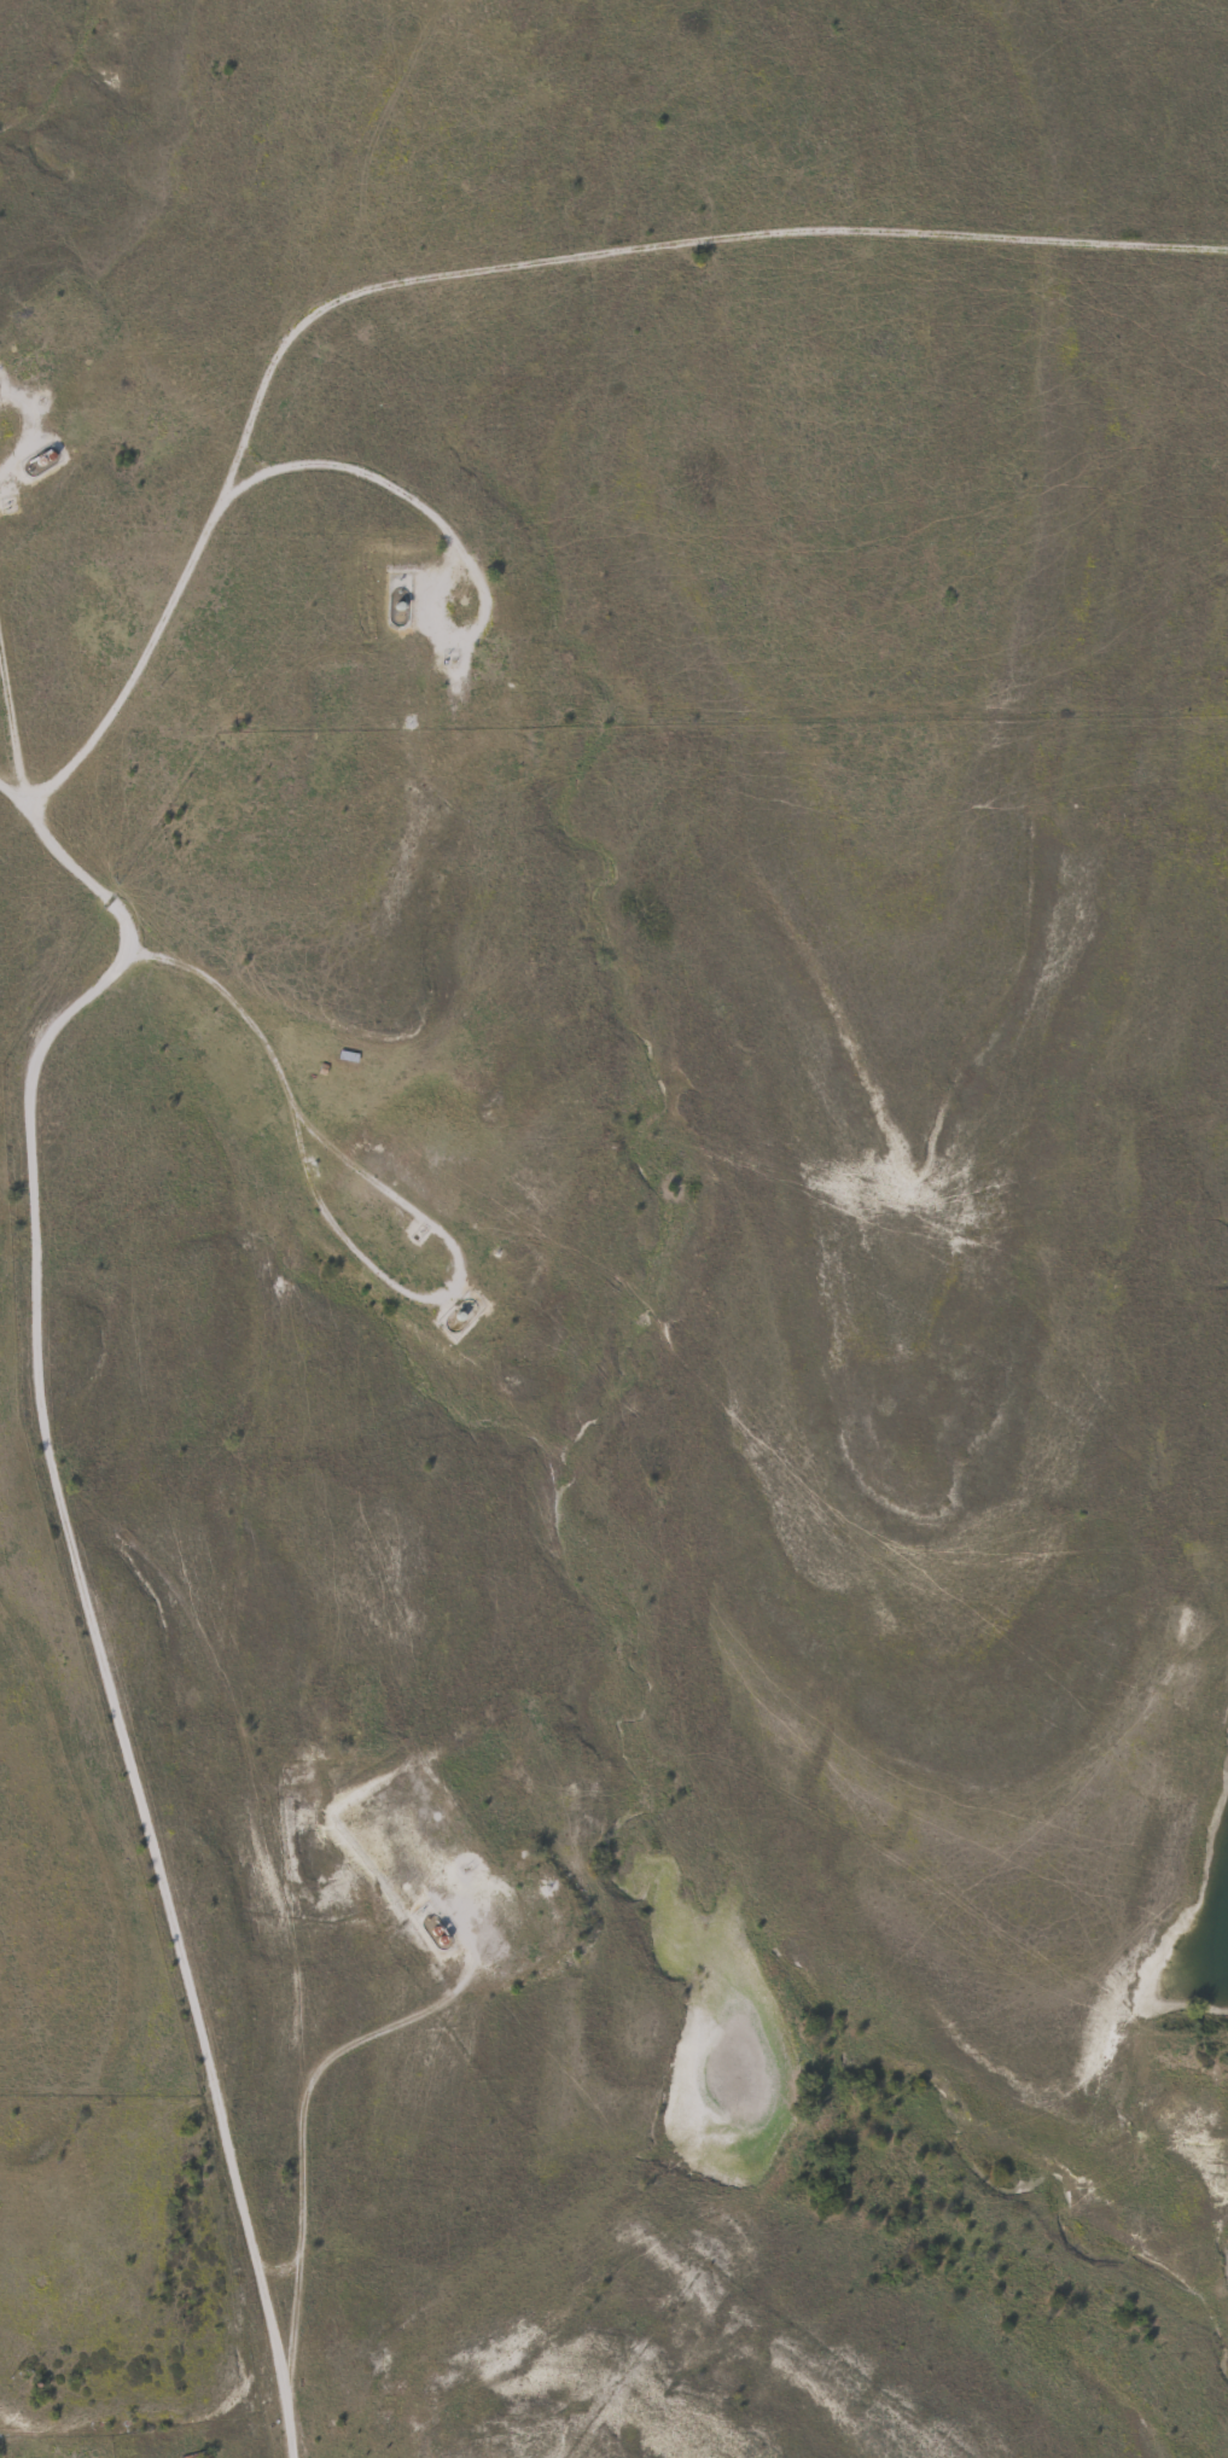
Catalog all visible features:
road: (786, 237)
road: (349, 465)
road: (8, 741)
road: (14, 797)
road: (27, 1136)
road: (298, 2134)
road: (278, 2272)

